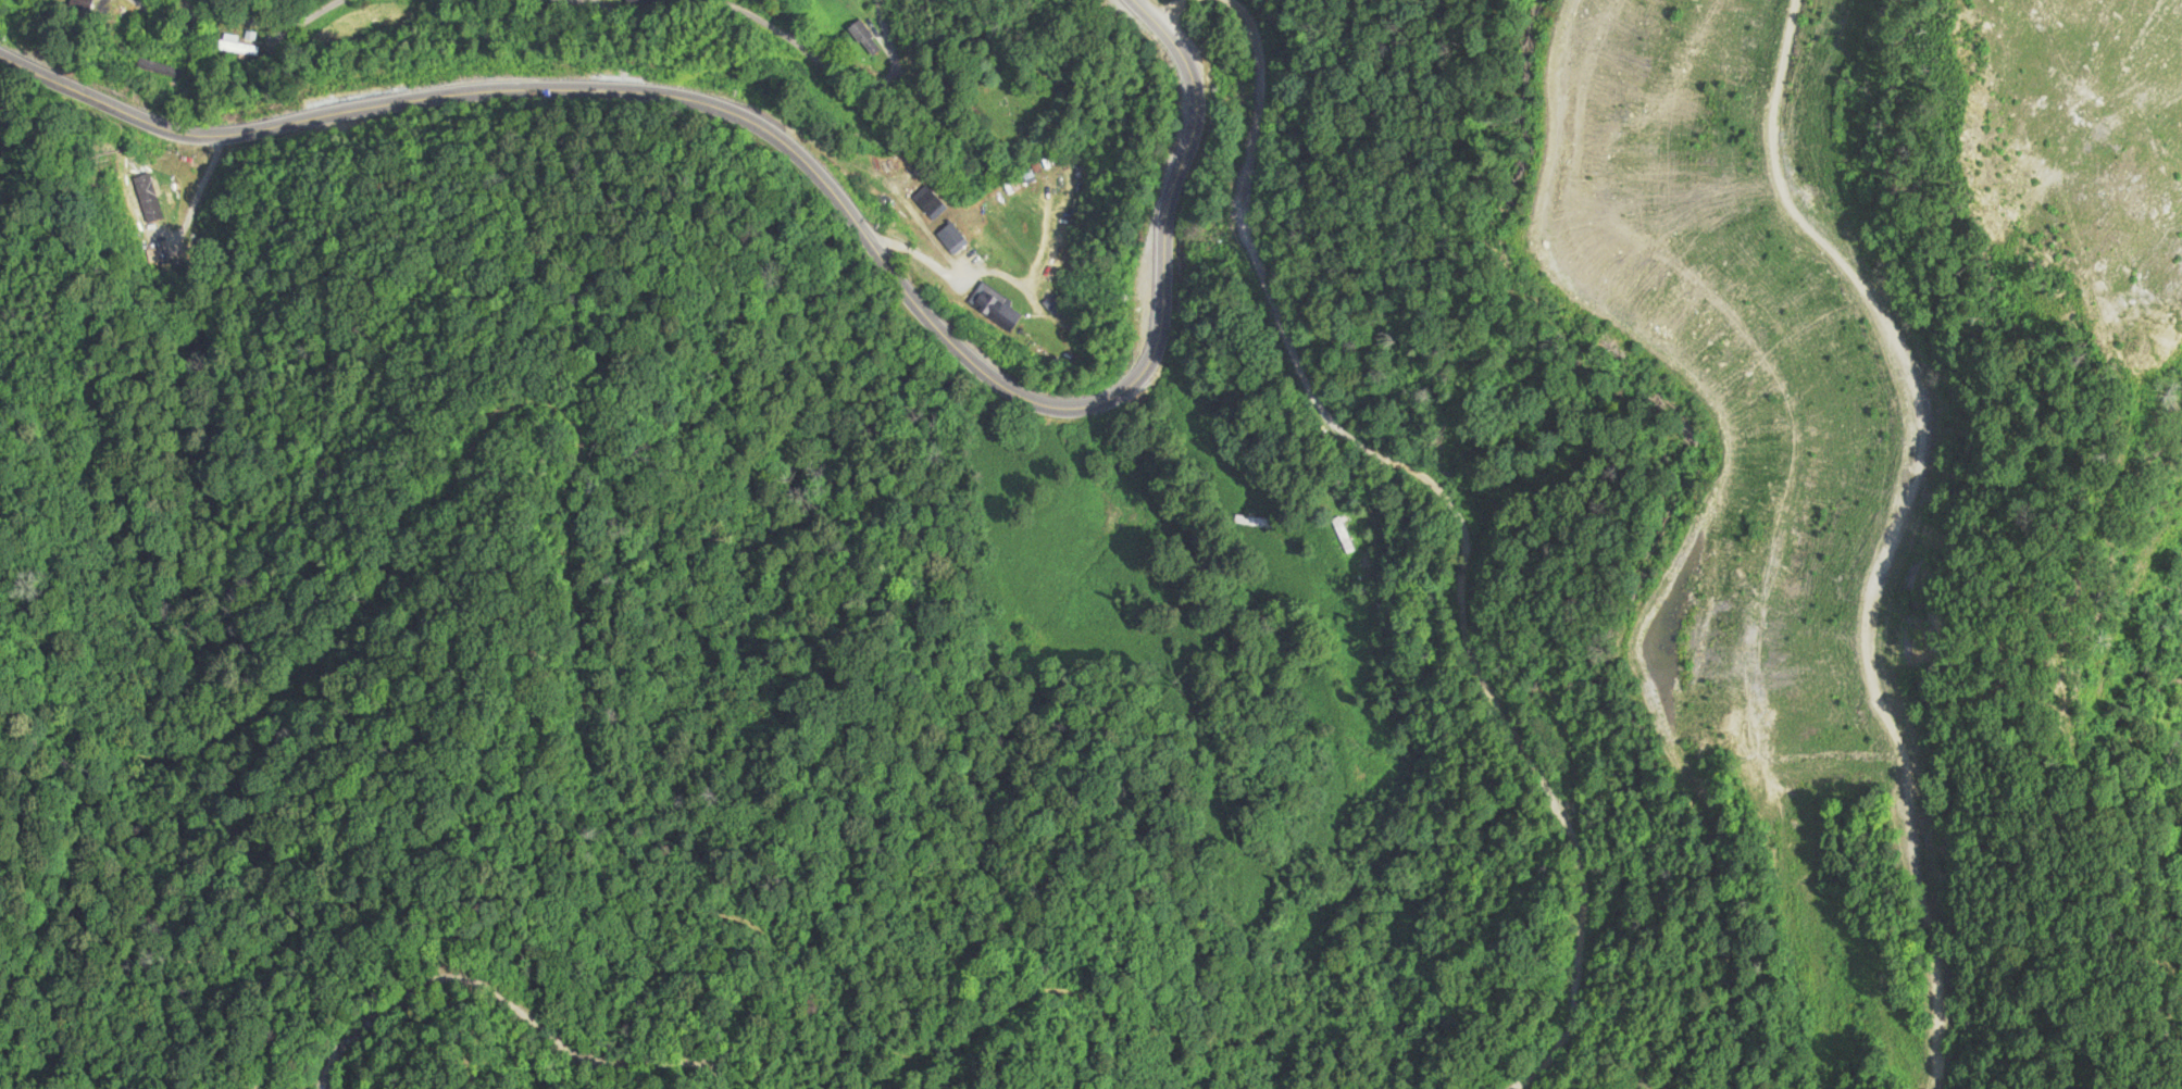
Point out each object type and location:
building: (866, 39)
building: (235, 48)
road: (240, 64)
building: (154, 70)
road: (806, 166)
building: (150, 198)
building: (936, 210)
building: (953, 239)
building: (996, 309)

